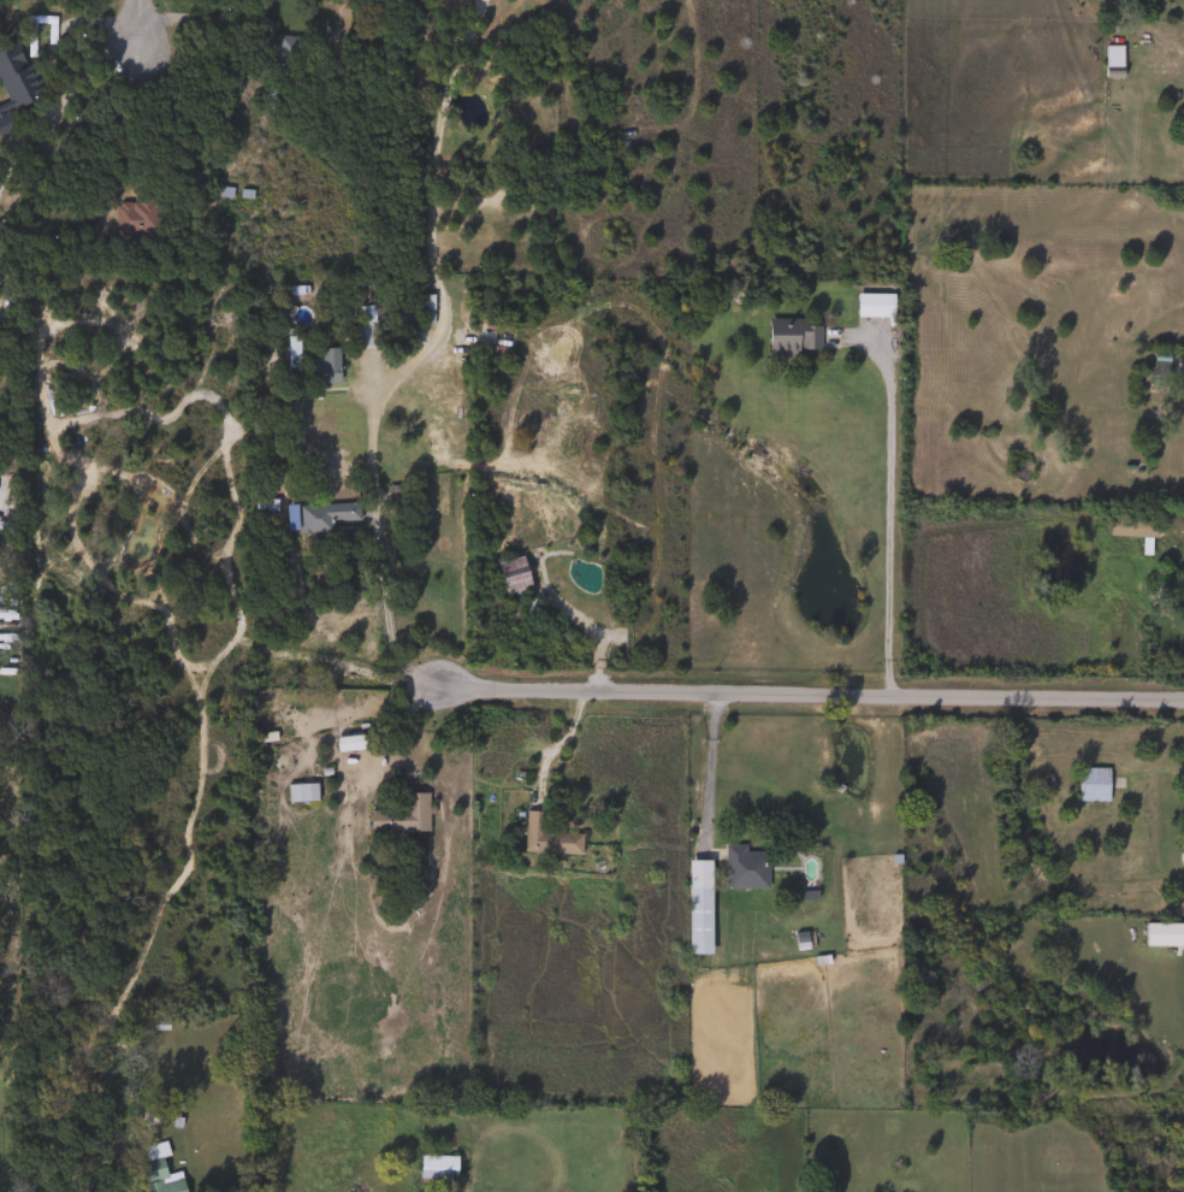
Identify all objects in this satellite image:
road: (142, 23)
road: (462, 40)
road: (49, 43)
building: (286, 49)
building: (1111, 57)
building: (13, 87)
road: (445, 90)
building: (266, 94)
building: (132, 219)
building: (872, 305)
building: (422, 308)
road: (442, 309)
building: (791, 336)
building: (316, 366)
road: (887, 495)
building: (264, 507)
building: (321, 517)
road: (380, 602)
road: (807, 700)
road: (378, 730)
building: (348, 742)
road: (553, 744)
road: (705, 775)
building: (1090, 784)
building: (298, 792)
building: (401, 816)
building: (545, 837)
building: (742, 867)
building: (1160, 934)
building: (160, 1023)
building: (827, 1141)
building: (434, 1167)
building: (156, 1170)

